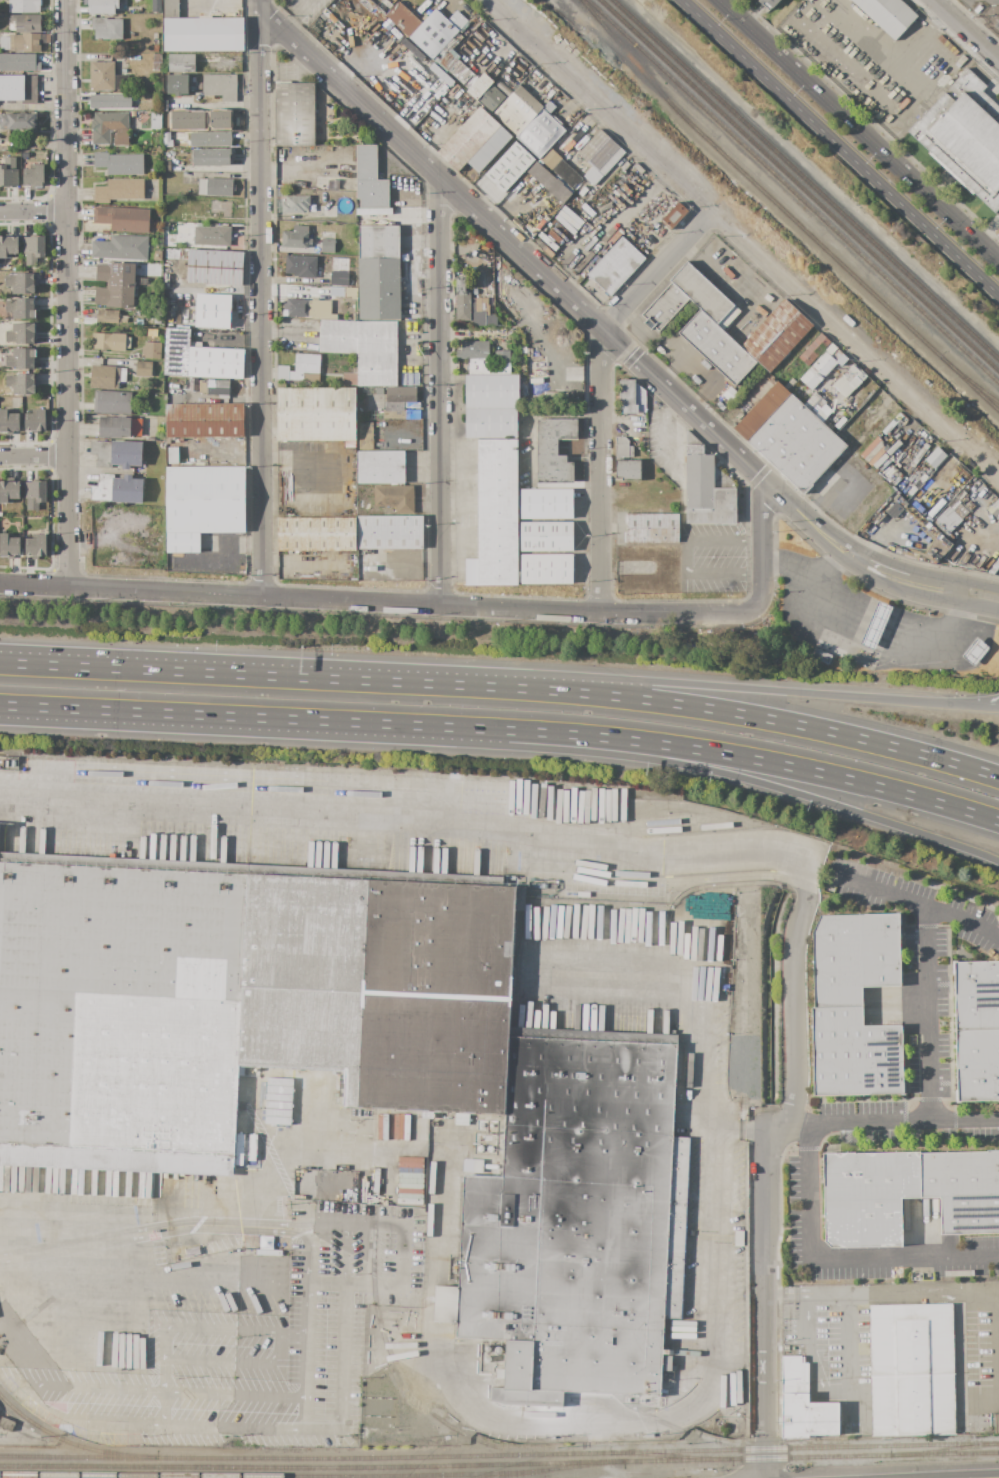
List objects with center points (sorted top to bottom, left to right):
building: (767, 3)
building: (156, 5)
road: (258, 5)
building: (24, 6)
building: (102, 6)
building: (171, 9)
road: (294, 15)
building: (887, 15)
building: (403, 19)
building: (457, 20)
building: (27, 23)
building: (107, 28)
road: (968, 28)
building: (203, 34)
building: (433, 34)
building: (155, 36)
building: (26, 42)
building: (155, 42)
building: (155, 48)
road: (996, 48)
building: (215, 54)
building: (156, 61)
building: (19, 62)
building: (121, 62)
building: (181, 63)
road: (889, 65)
building: (512, 69)
building: (461, 73)
building: (101, 76)
building: (506, 82)
building: (177, 84)
building: (199, 86)
building: (220, 86)
building: (479, 86)
building: (19, 88)
building: (491, 98)
building: (110, 101)
building: (549, 107)
building: (517, 110)
building: (295, 114)
building: (156, 120)
building: (18, 121)
building: (110, 128)
road: (860, 129)
building: (540, 133)
building: (965, 137)
building: (167, 139)
building: (210, 139)
building: (468, 139)
road: (840, 145)
building: (489, 149)
building: (600, 156)
building: (211, 157)
building: (550, 159)
building: (125, 164)
building: (166, 166)
building: (508, 167)
building: (8, 172)
building: (567, 174)
building: (34, 177)
building: (370, 179)
railway: (805, 180)
building: (549, 182)
building: (327, 184)
railway: (799, 185)
building: (215, 187)
building: (119, 190)
railway: (762, 190)
railway: (793, 190)
building: (296, 204)
road: (33, 211)
building: (221, 213)
building: (674, 215)
building: (122, 218)
building: (212, 235)
road: (743, 236)
building: (296, 237)
building: (8, 246)
building: (328, 246)
building: (158, 247)
building: (120, 248)
building: (33, 249)
building: (337, 249)
road: (66, 250)
building: (157, 255)
building: (181, 263)
building: (615, 265)
building: (301, 266)
building: (214, 267)
building: (379, 272)
road: (544, 276)
building: (339, 278)
building: (143, 281)
building: (20, 283)
building: (115, 285)
building: (141, 291)
building: (343, 291)
building: (475, 292)
building: (704, 295)
building: (462, 299)
building: (351, 300)
road: (260, 302)
building: (663, 307)
building: (21, 308)
building: (303, 309)
building: (213, 310)
building: (479, 312)
building: (170, 316)
building: (408, 316)
building: (108, 317)
building: (139, 319)
building: (491, 320)
building: (21, 334)
building: (776, 335)
building: (357, 337)
building: (108, 342)
building: (128, 343)
building: (716, 347)
building: (813, 349)
building: (473, 350)
building: (521, 350)
building: (152, 351)
building: (176, 352)
building: (21, 358)
building: (215, 362)
building: (502, 363)
building: (823, 366)
building: (305, 367)
building: (482, 367)
building: (143, 369)
road: (696, 369)
building: (374, 370)
building: (107, 376)
building: (182, 380)
building: (524, 382)
building: (848, 382)
building: (194, 383)
building: (21, 384)
railway: (977, 385)
building: (214, 386)
road: (600, 389)
railway: (977, 389)
building: (379, 391)
road: (439, 391)
building: (491, 391)
building: (401, 394)
building: (527, 394)
building: (729, 394)
building: (631, 397)
building: (112, 402)
road: (529, 413)
building: (316, 414)
building: (412, 414)
building: (204, 420)
building: (35, 421)
building: (8, 422)
building: (491, 423)
building: (135, 426)
building: (114, 427)
road: (667, 429)
building: (365, 436)
building: (796, 444)
building: (554, 450)
building: (117, 453)
road: (34, 455)
building: (934, 457)
building: (625, 461)
building: (380, 467)
building: (706, 487)
building: (117, 489)
building: (9, 491)
building: (35, 494)
building: (394, 498)
building: (205, 499)
building: (546, 503)
building: (894, 510)
building: (497, 513)
building: (0, 514)
building: (951, 514)
building: (652, 528)
building: (389, 532)
building: (316, 534)
building: (546, 536)
building: (182, 542)
road: (67, 543)
building: (9, 545)
building: (36, 546)
road: (762, 547)
road: (687, 556)
parking lot: (712, 558)
road: (228, 561)
building: (546, 569)
road: (912, 574)
road: (954, 591)
road: (906, 592)
road: (377, 602)
building: (874, 625)
building: (975, 651)
road: (856, 655)
building: (822, 656)
road: (228, 674)
road: (713, 685)
road: (984, 704)
road: (731, 712)
road: (285, 719)
building: (8, 763)
road: (787, 766)
road: (787, 790)
road: (422, 822)
road: (876, 884)
building: (853, 957)
road: (927, 974)
building: (976, 994)
building: (236, 999)
road: (711, 1005)
road: (798, 1011)
building: (854, 1054)
building: (977, 1065)
building: (276, 1101)
building: (303, 1106)
road: (889, 1126)
building: (963, 1190)
building: (866, 1196)
building: (576, 1221)
road: (230, 1223)
road: (270, 1230)
road: (344, 1255)
road: (365, 1255)
road: (840, 1257)
road: (354, 1285)
road: (711, 1290)
road: (936, 1292)
road: (765, 1301)
road: (289, 1341)
road: (162, 1345)
road: (815, 1354)
road: (849, 1356)
railway: (398, 1367)
building: (912, 1369)
road: (163, 1375)
road: (24, 1390)
road: (460, 1397)
building: (803, 1404)
road: (163, 1410)
building: (995, 1423)
building: (6, 1424)
road: (318, 1430)
railway: (66, 1441)
railway: (944, 1449)
railway: (499, 1455)
railway: (669, 1457)
railway: (499, 1464)
railway: (557, 1469)
railway: (270, 1476)

